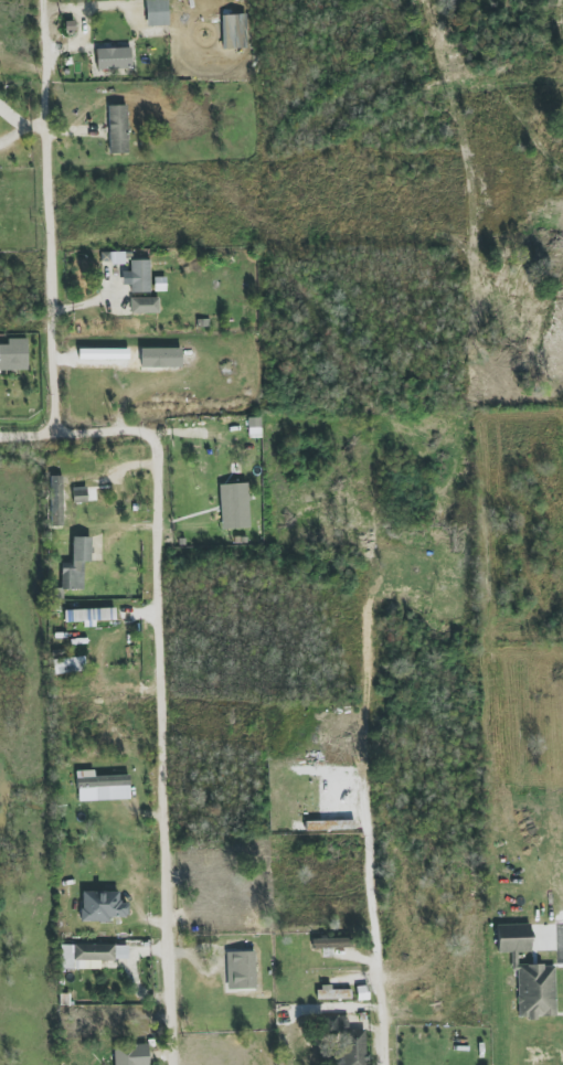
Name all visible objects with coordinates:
building: (157, 12)
building: (113, 58)
building: (237, 70)
building: (118, 129)
road: (47, 219)
building: (138, 276)
building: (145, 306)
building: (13, 354)
building: (79, 494)
building: (234, 507)
building: (76, 564)
building: (89, 616)
building: (68, 665)
road: (162, 673)
building: (102, 787)
building: (102, 906)
building: (513, 938)
building: (332, 942)
building: (89, 956)
building: (241, 970)
building: (535, 991)
building: (331, 993)
road: (378, 1019)
building: (350, 1044)
building: (130, 1054)

